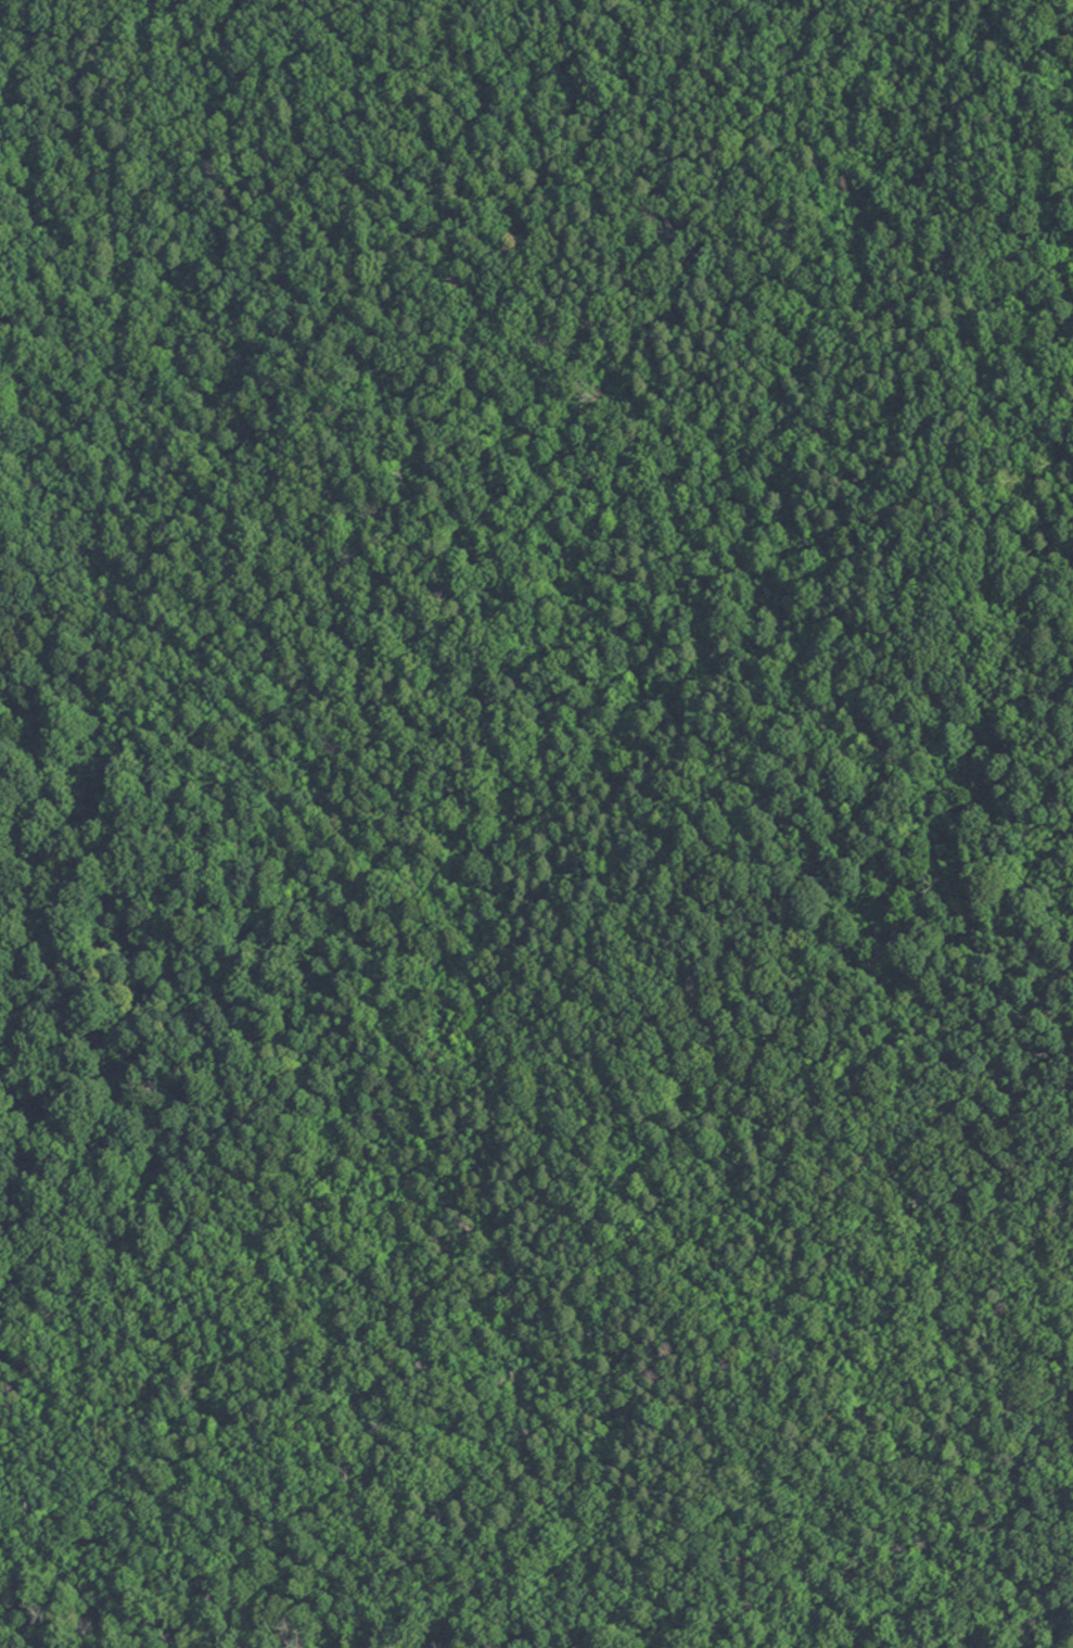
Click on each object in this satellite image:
road: (352, 814)

